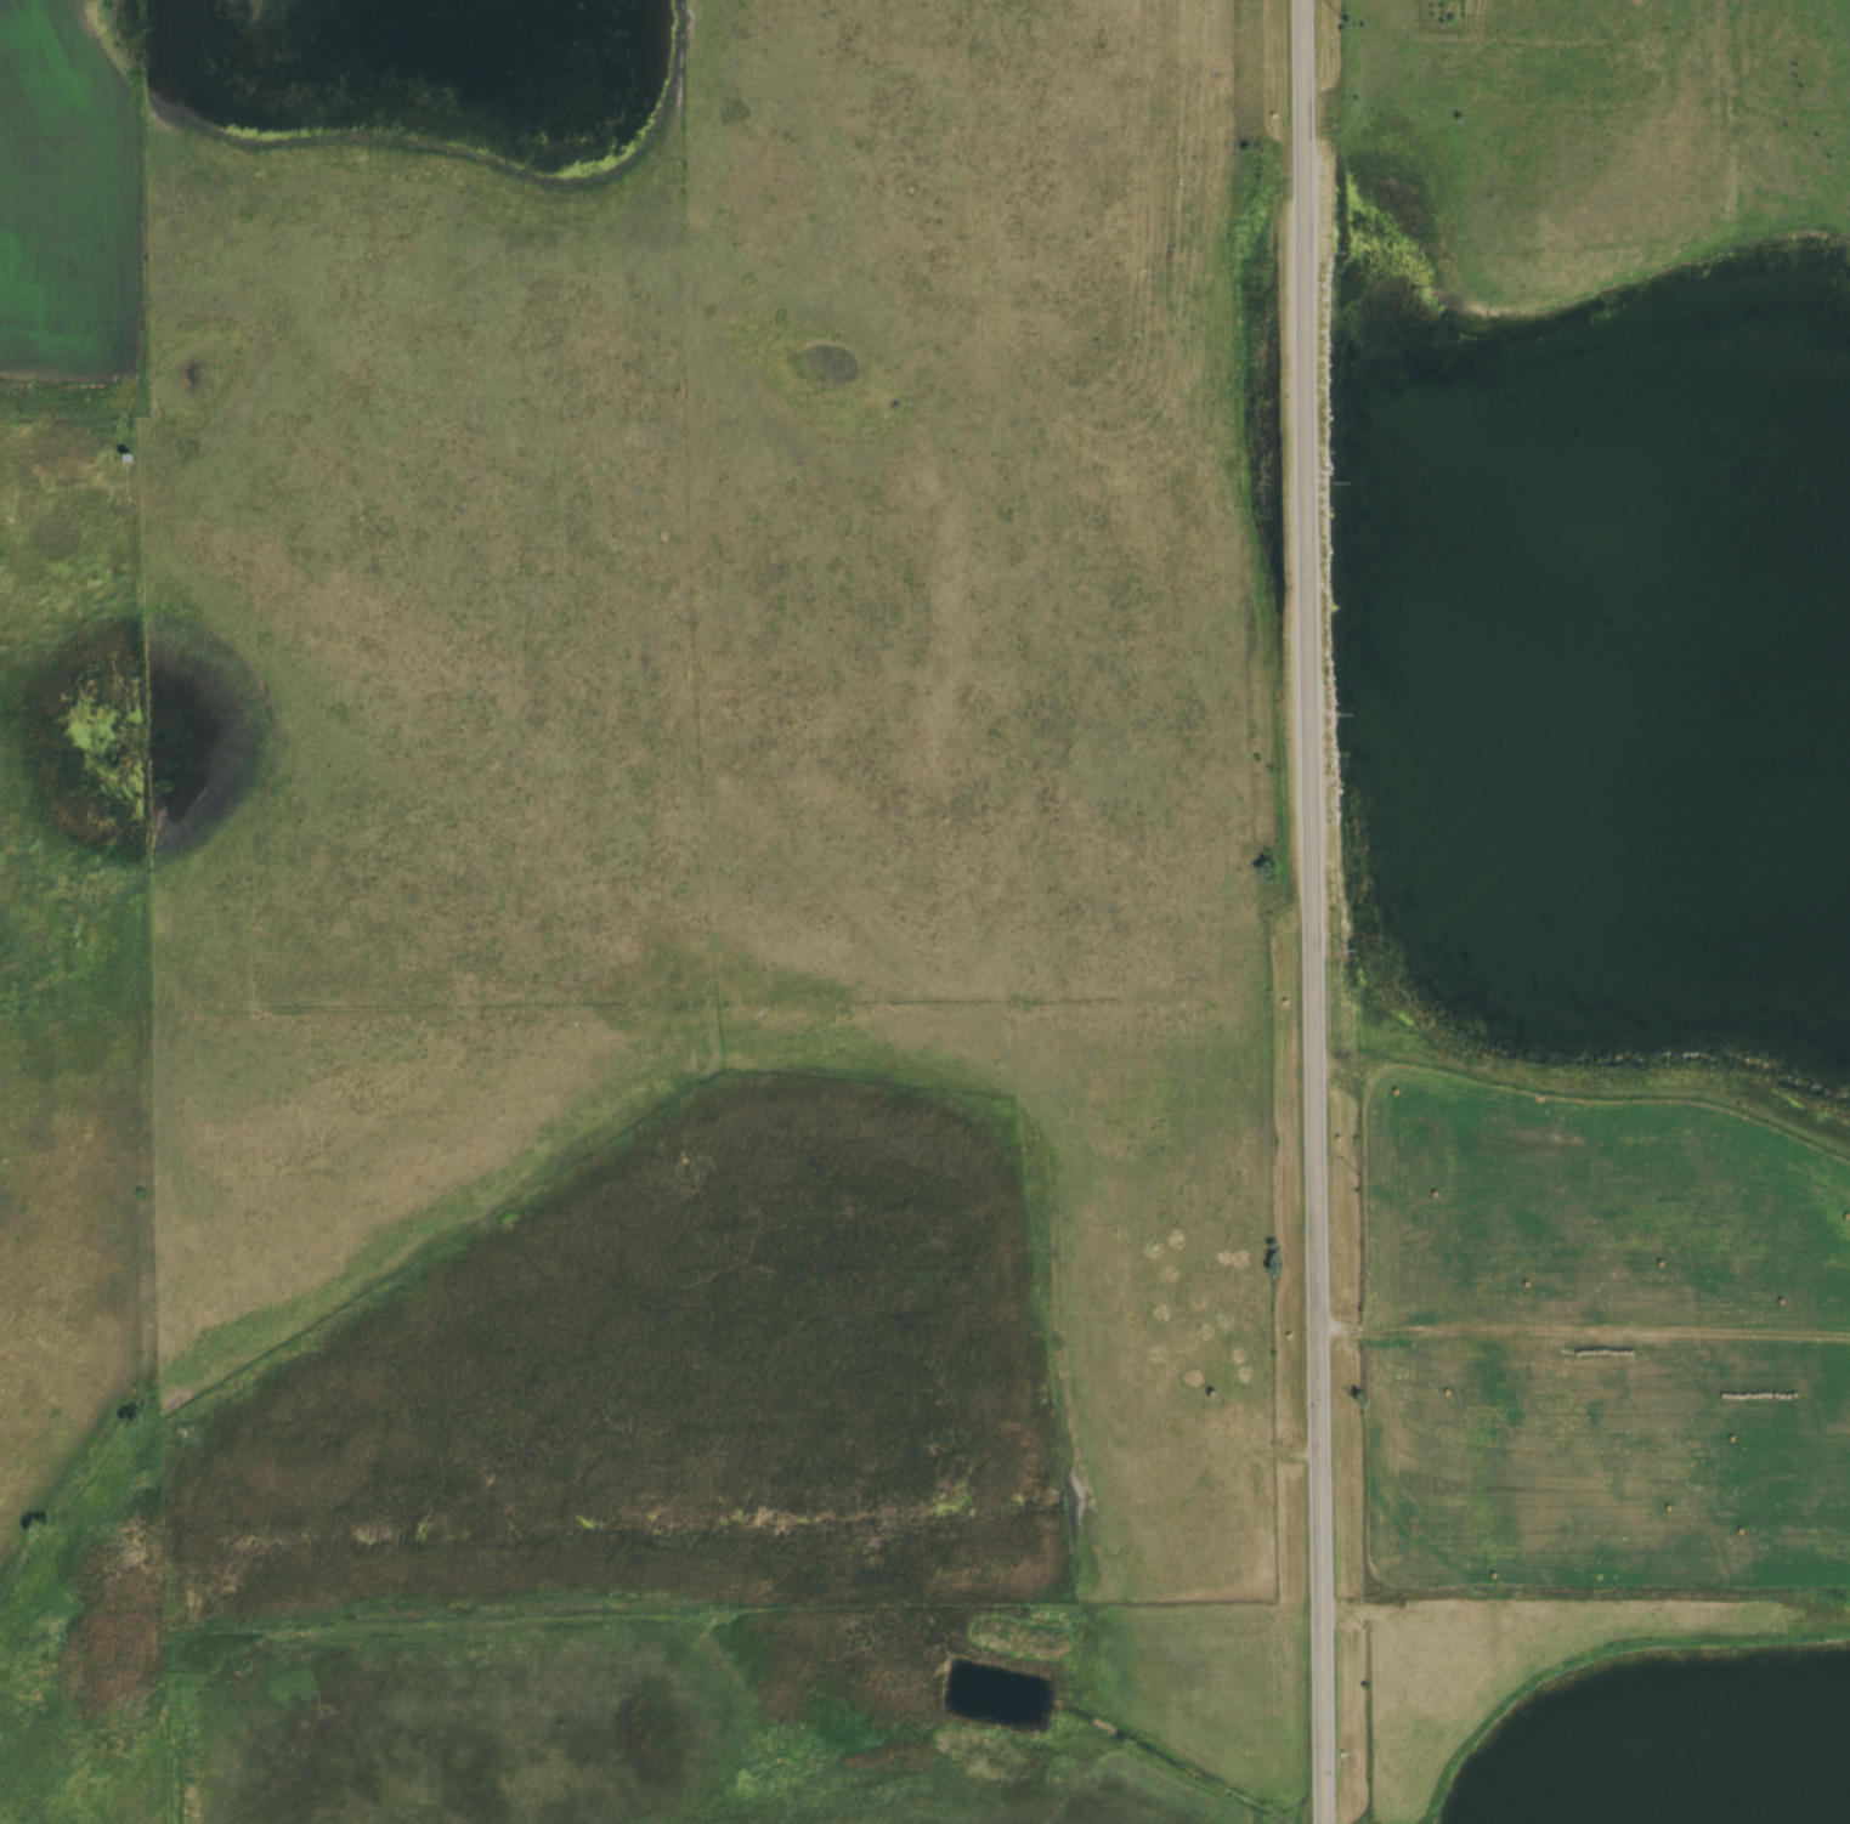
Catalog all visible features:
road: (1318, 912)

